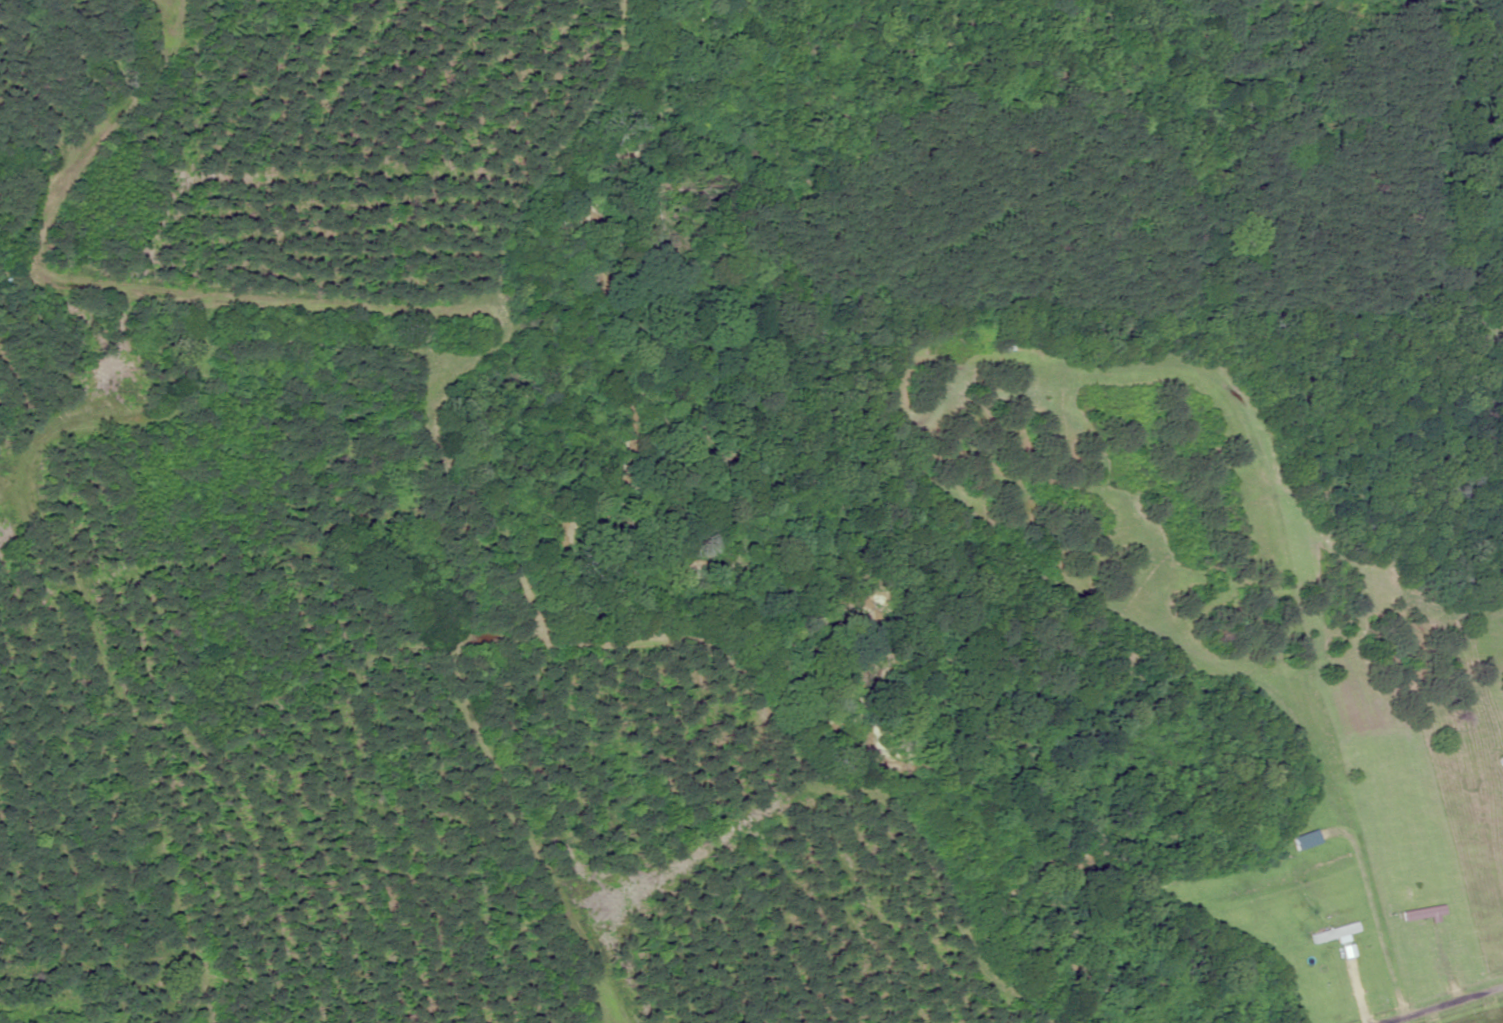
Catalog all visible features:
building: (1424, 913)

